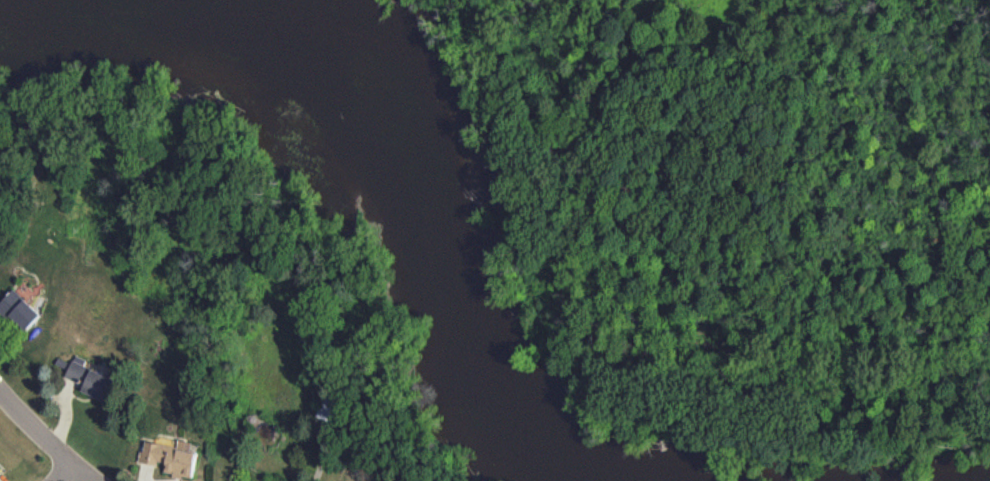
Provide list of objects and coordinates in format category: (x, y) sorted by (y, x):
river: (404, 141)
building: (18, 310)
building: (89, 379)
road: (44, 434)
building: (170, 457)
building: (0, 468)
road: (61, 471)

